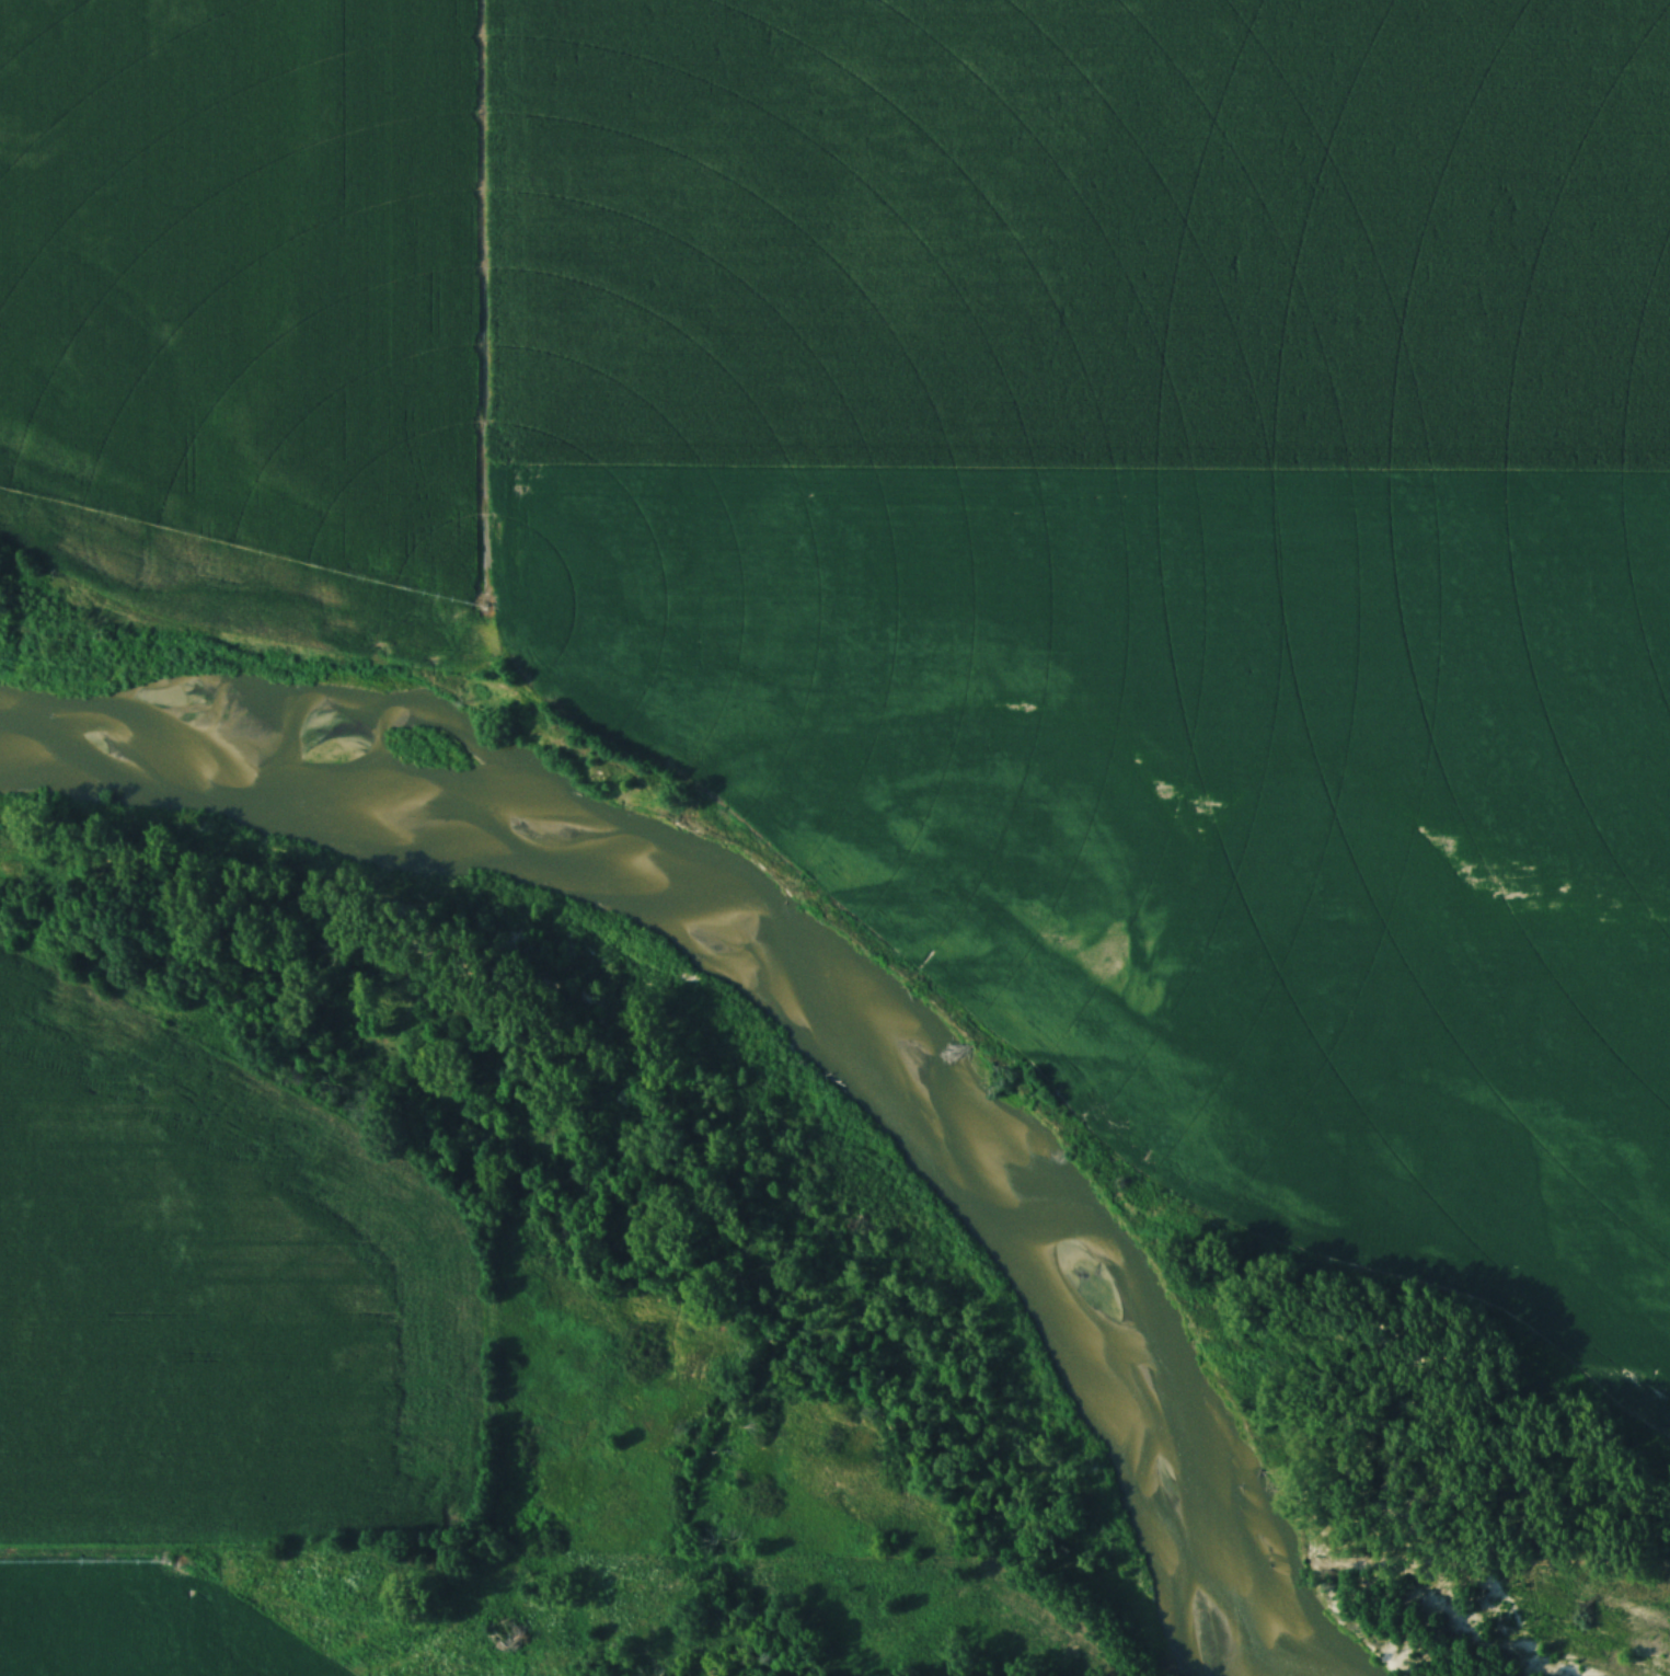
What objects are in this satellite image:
river: (817, 962)

